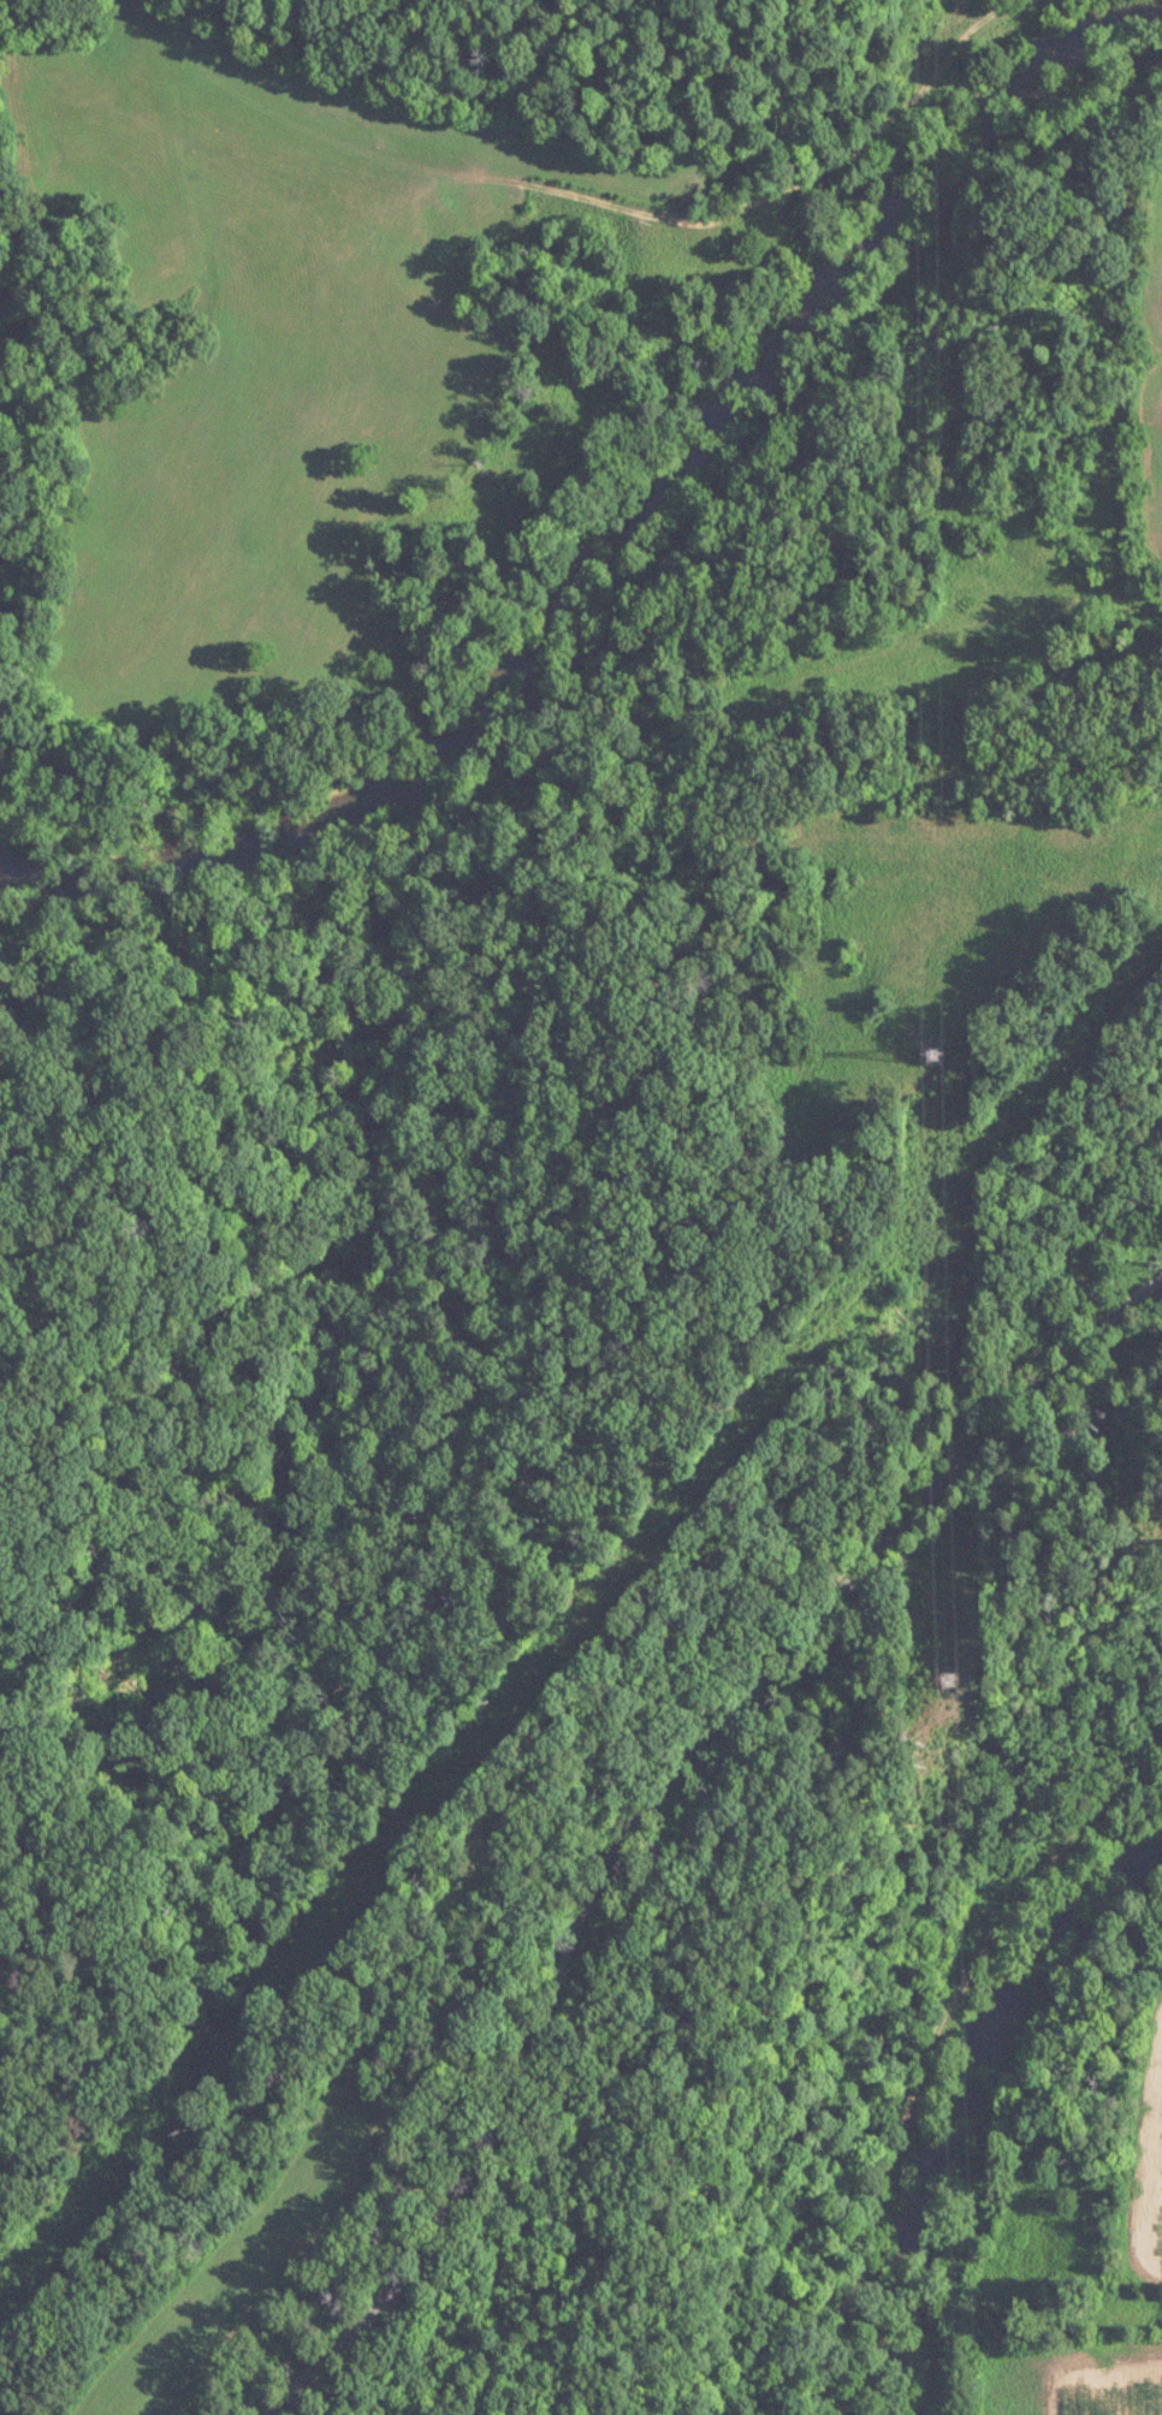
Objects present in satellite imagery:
power tower: (931, 1057)
power tower: (948, 1677)
road: (648, 1805)

